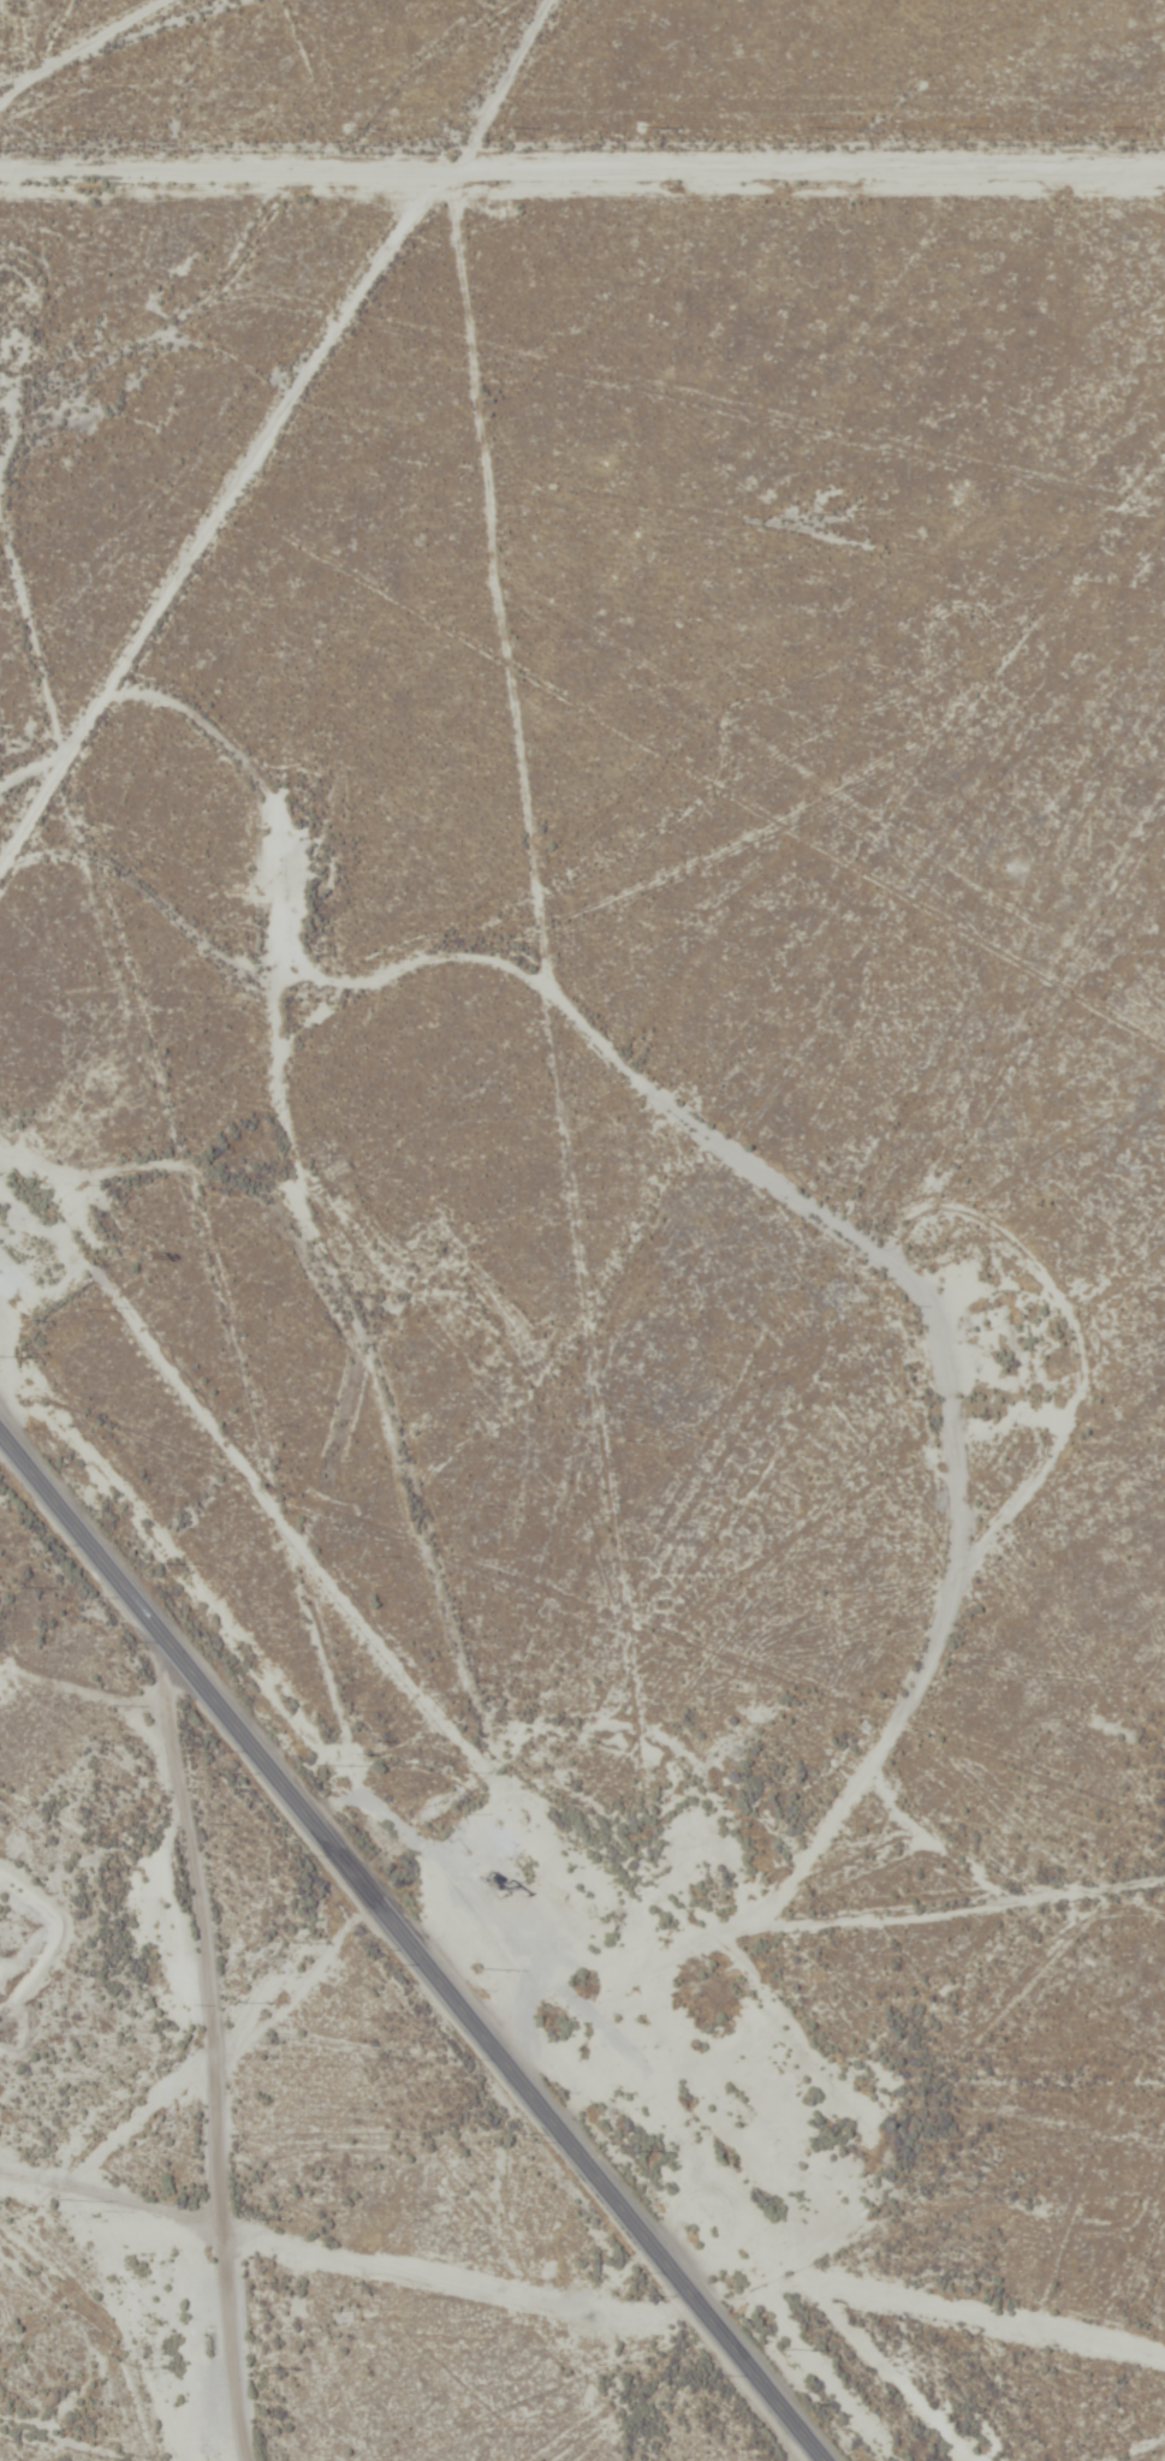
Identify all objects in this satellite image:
road: (295, 457)
road: (410, 1950)
road: (218, 2058)
road: (72, 2441)

